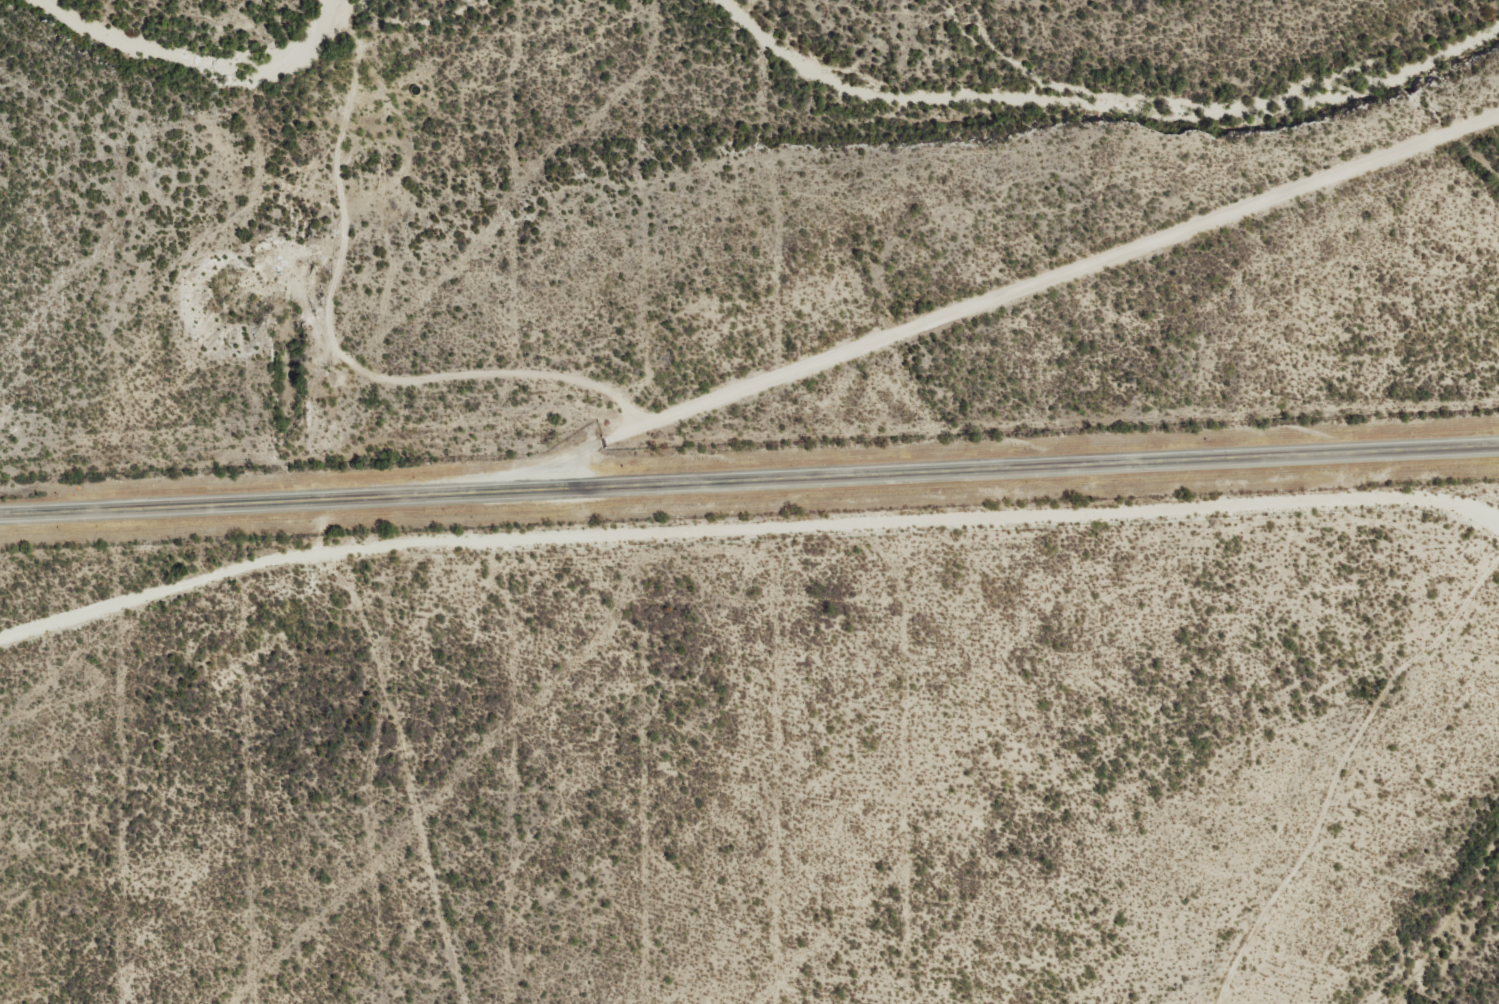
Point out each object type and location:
road: (756, 427)
road: (749, 473)

